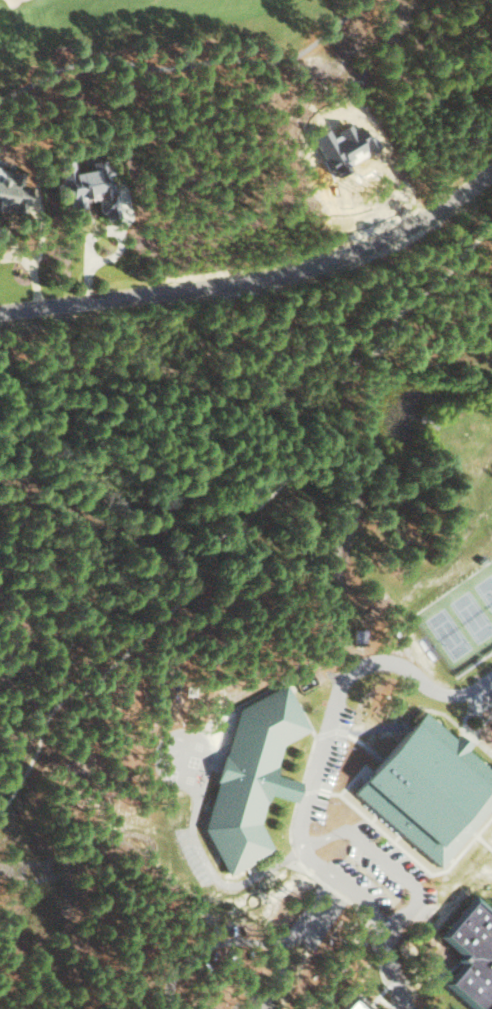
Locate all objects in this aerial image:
park: (172, 42)
building: (86, 185)
building: (12, 189)
road: (258, 278)
road: (244, 523)
park: (461, 619)
building: (252, 777)
road: (311, 777)
building: (429, 788)
building: (471, 954)
building: (356, 1004)

